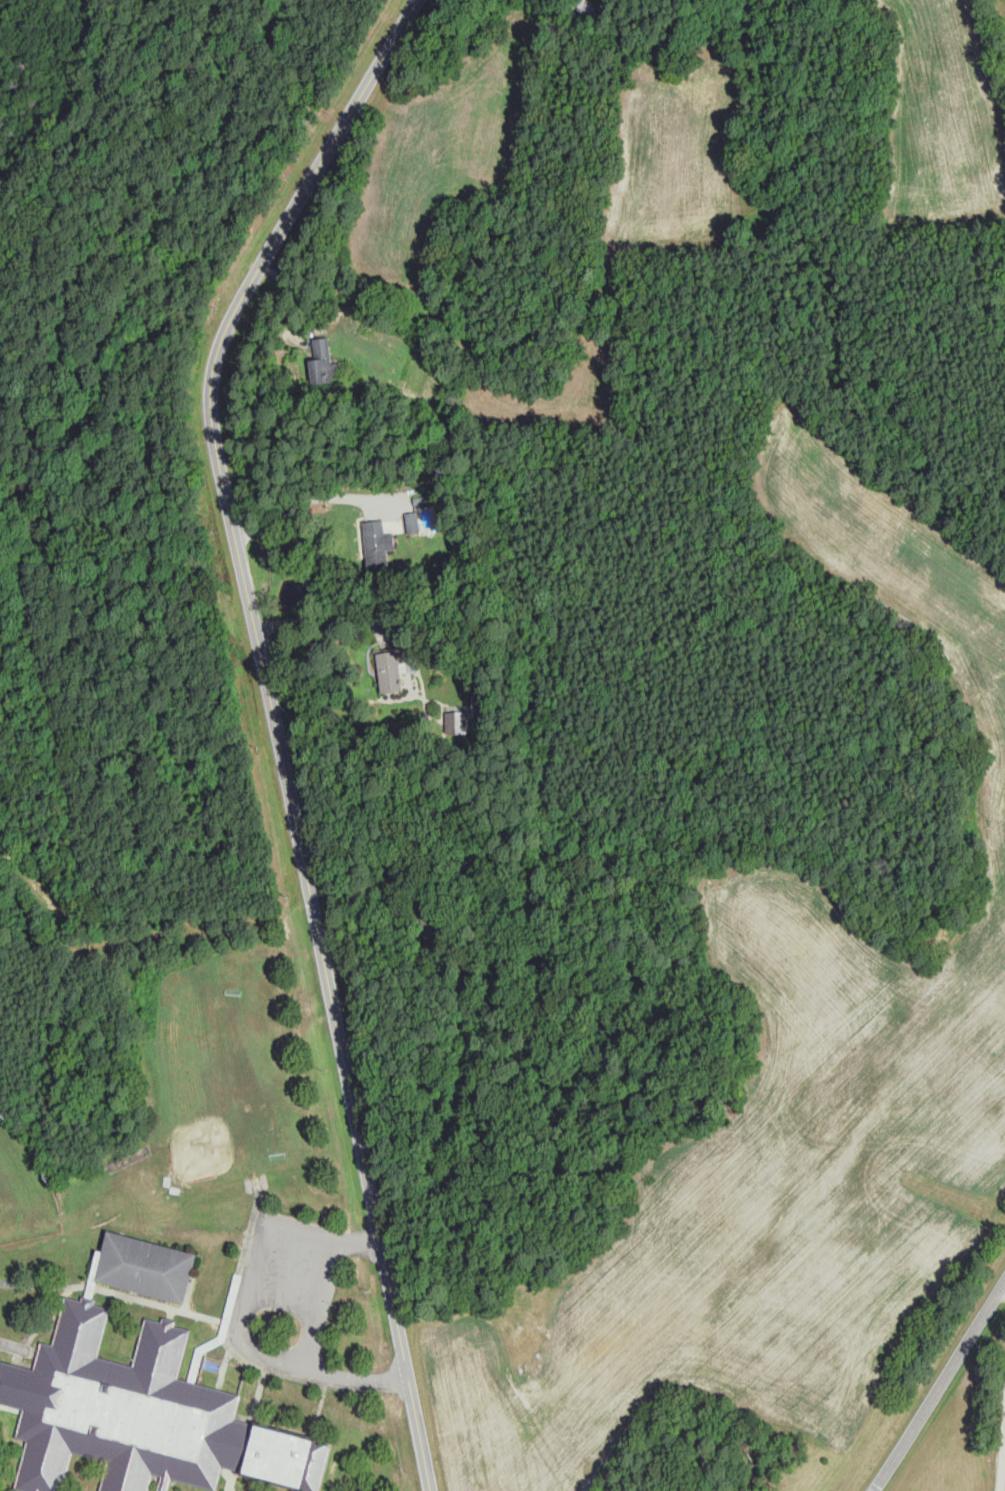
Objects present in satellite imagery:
building: (586, 13)
building: (322, 361)
road: (303, 498)
building: (414, 522)
building: (377, 547)
road: (320, 608)
building: (390, 671)
road: (271, 724)
building: (432, 927)
park: (234, 1111)
park: (25, 1181)
building: (149, 1259)
road: (319, 1327)
road: (939, 1385)
building: (142, 1407)
building: (796, 1450)
road: (1004, 1476)

